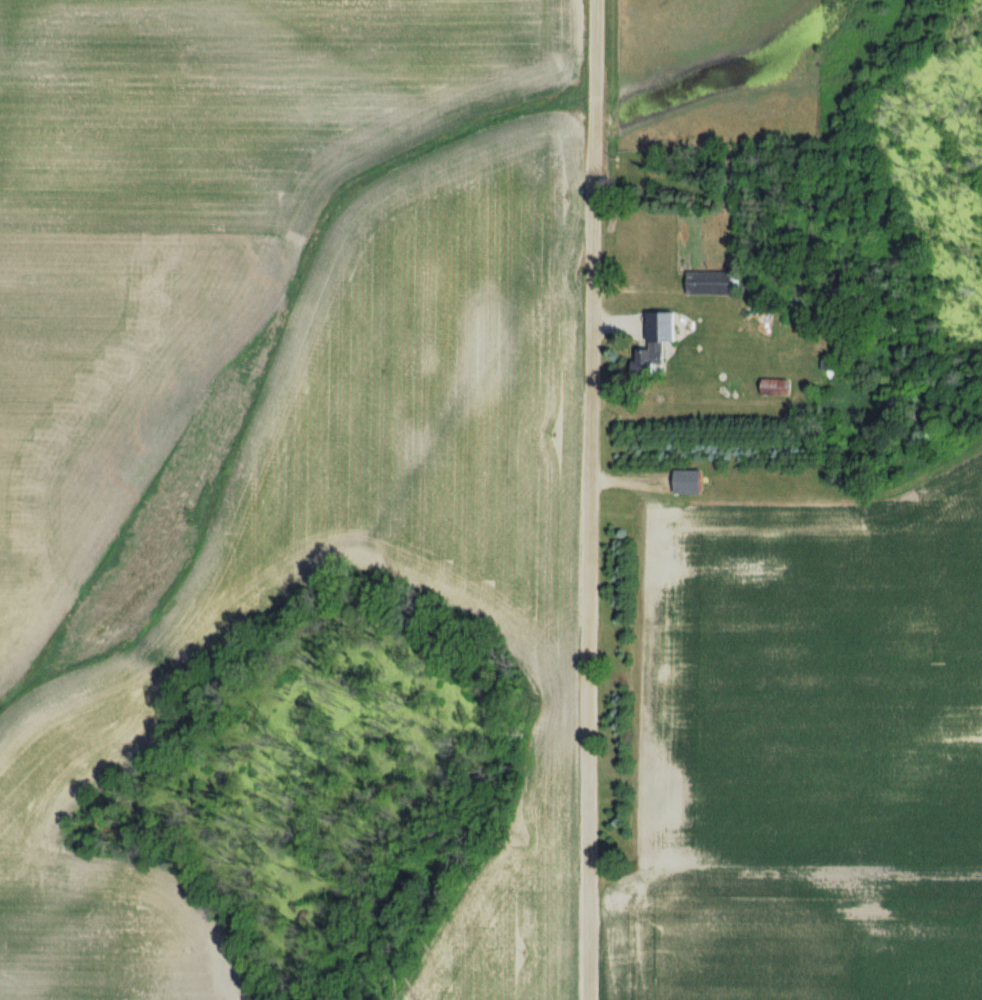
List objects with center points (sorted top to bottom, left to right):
building: (711, 282)
building: (653, 342)
building: (778, 386)
building: (690, 482)
road: (592, 500)

